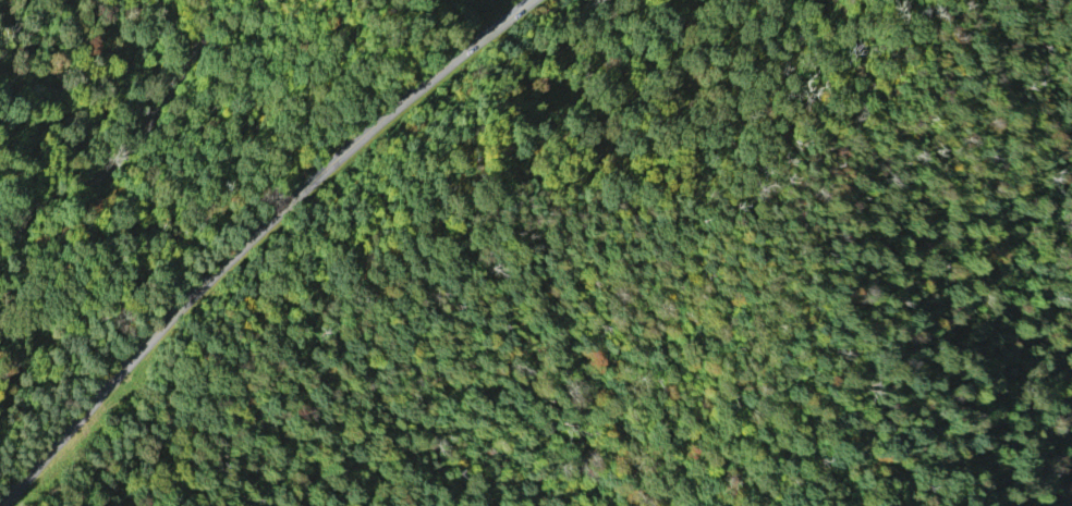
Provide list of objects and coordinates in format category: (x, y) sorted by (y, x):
road: (110, 163)
road: (253, 239)
road: (647, 492)

